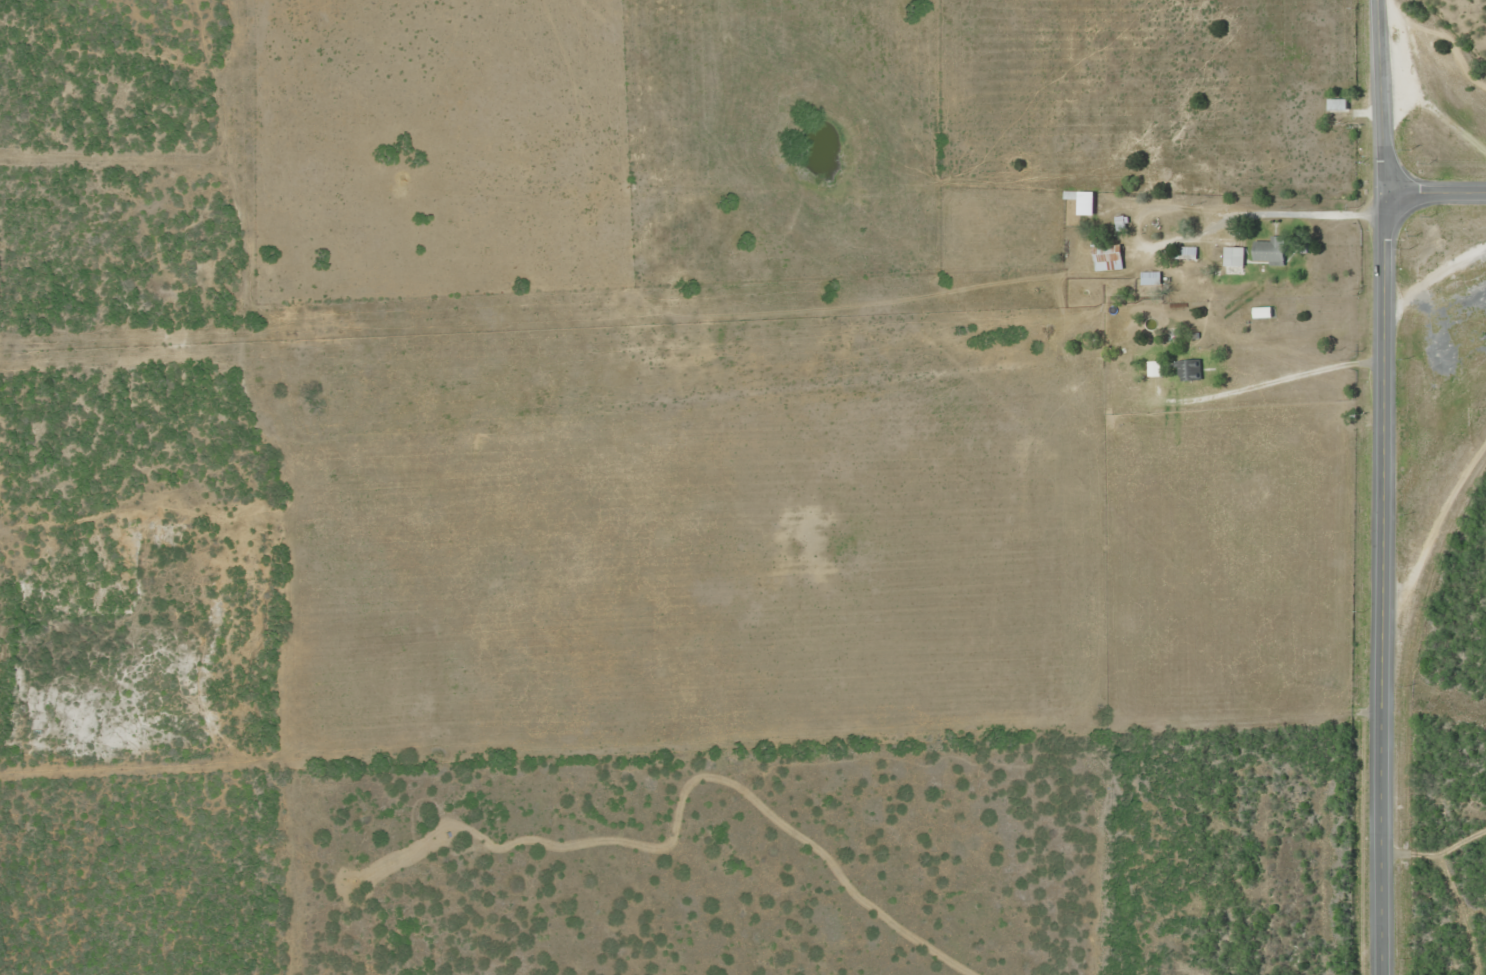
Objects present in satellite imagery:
road: (1381, 98)
building: (1337, 104)
road: (1433, 191)
building: (1269, 249)
building: (1187, 251)
building: (1107, 253)
building: (1233, 255)
building: (1154, 367)
building: (1188, 368)
road: (1381, 440)
road: (1421, 556)
road: (1377, 829)

